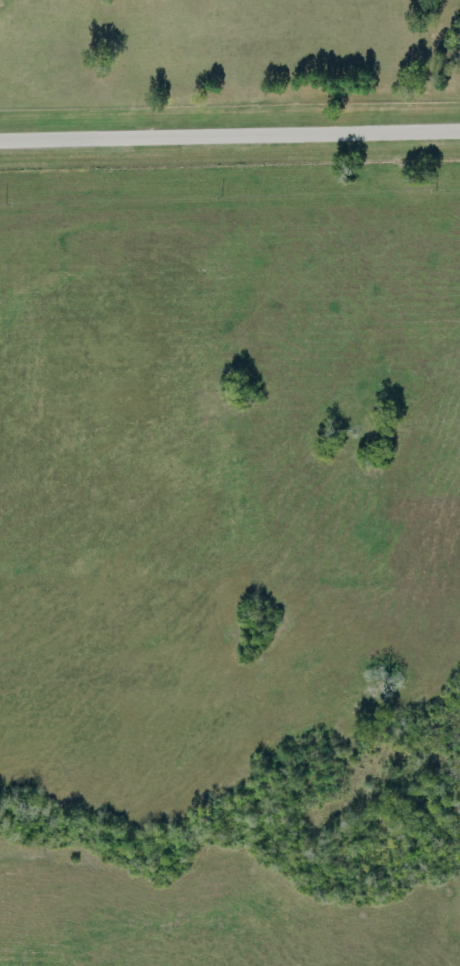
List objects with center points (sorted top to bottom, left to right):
road: (229, 131)

